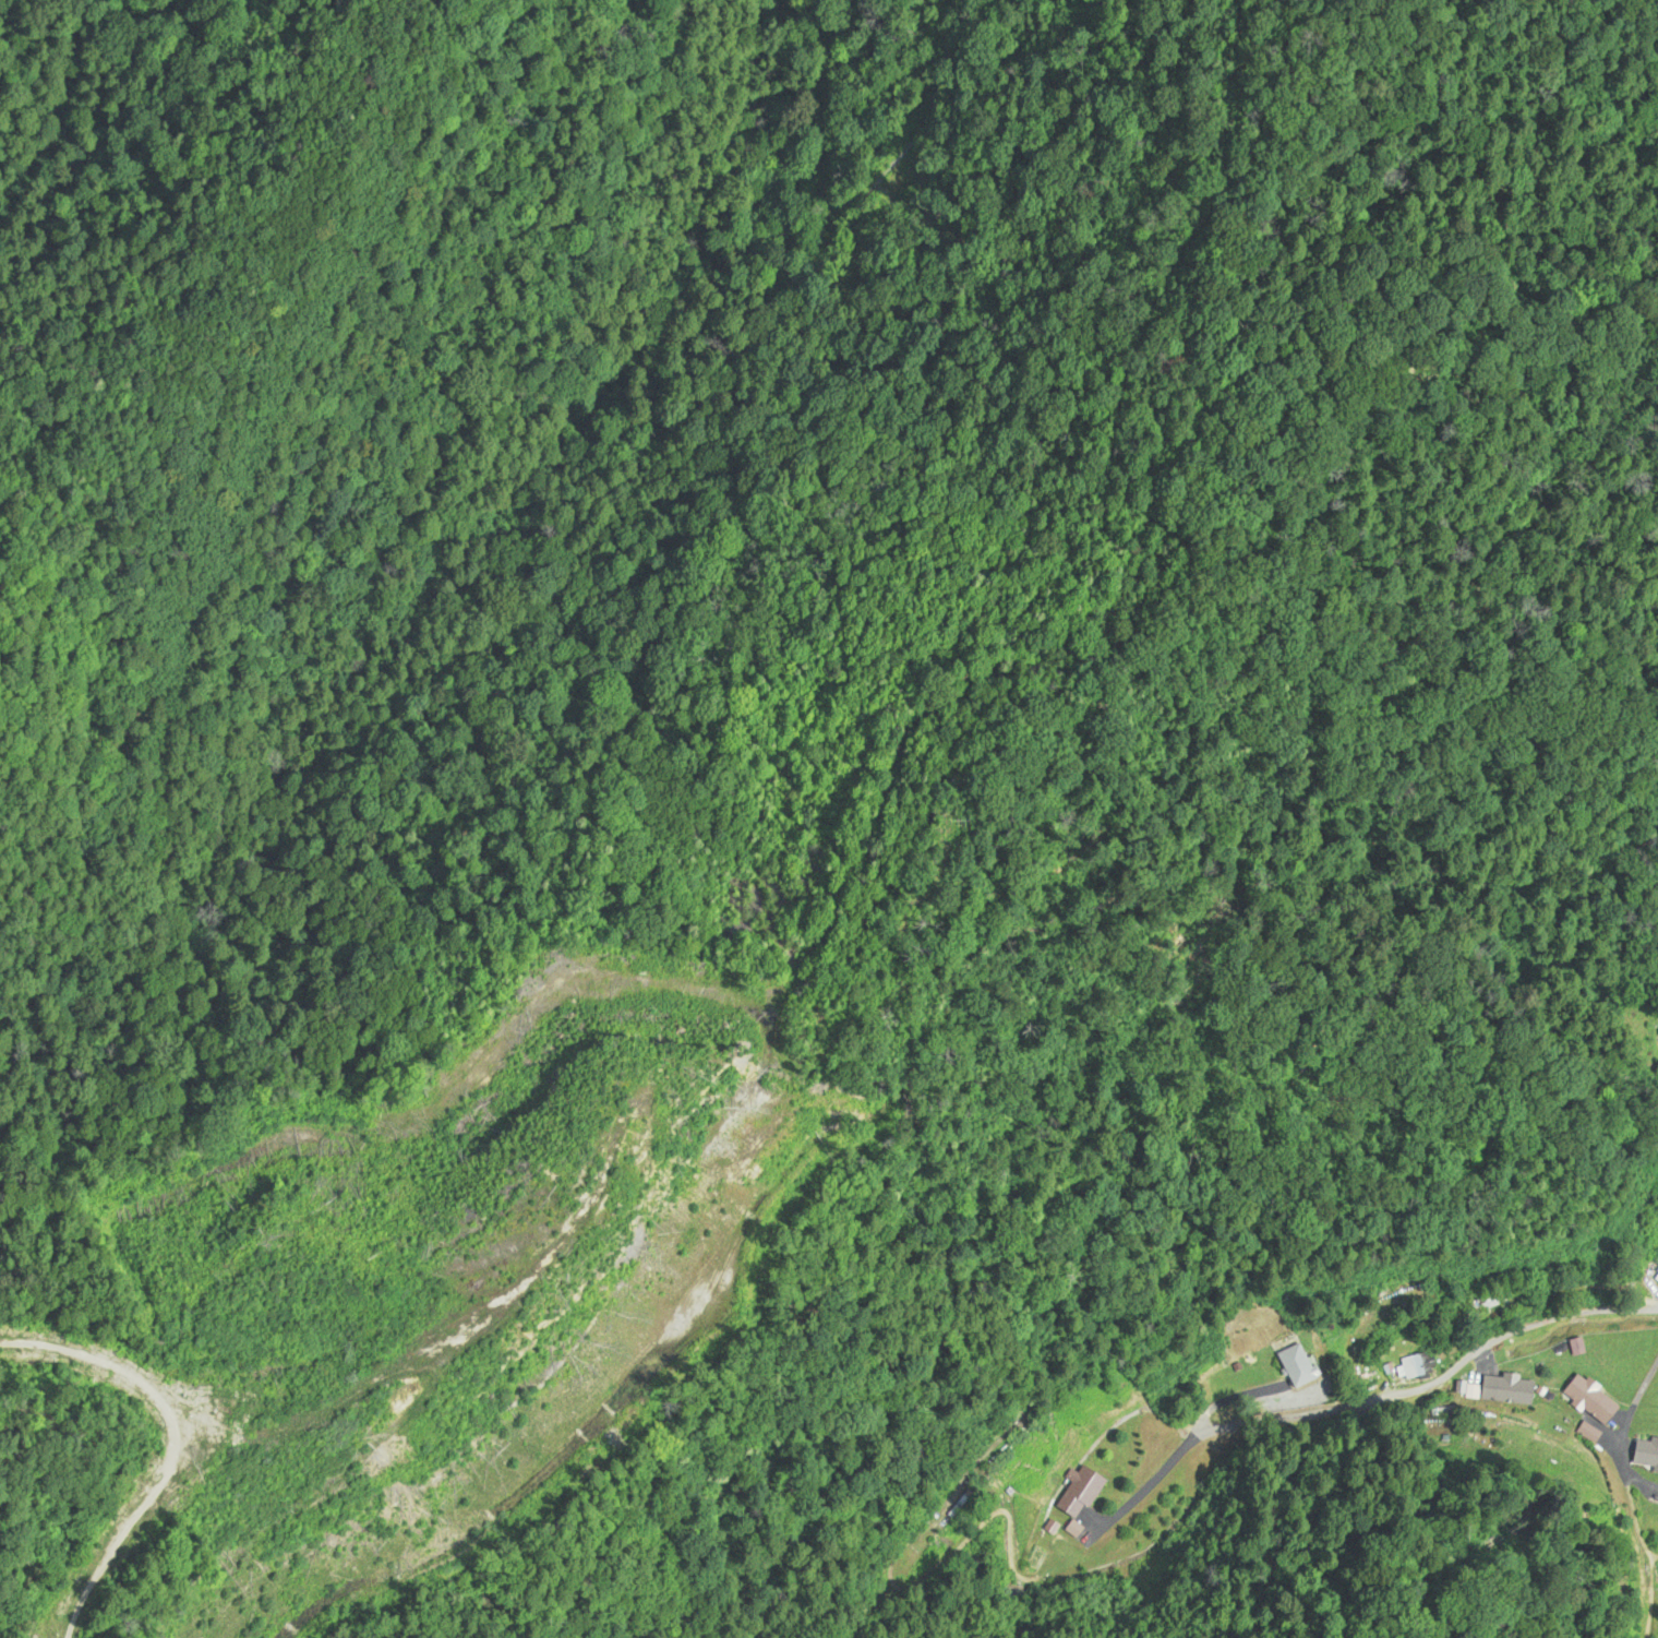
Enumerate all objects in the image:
building: (1656, 1277)
building: (1301, 1366)
building: (1411, 1367)
road: (1307, 1380)
building: (1507, 1390)
building: (1470, 1396)
building: (1593, 1400)
building: (1647, 1452)
building: (1080, 1491)

